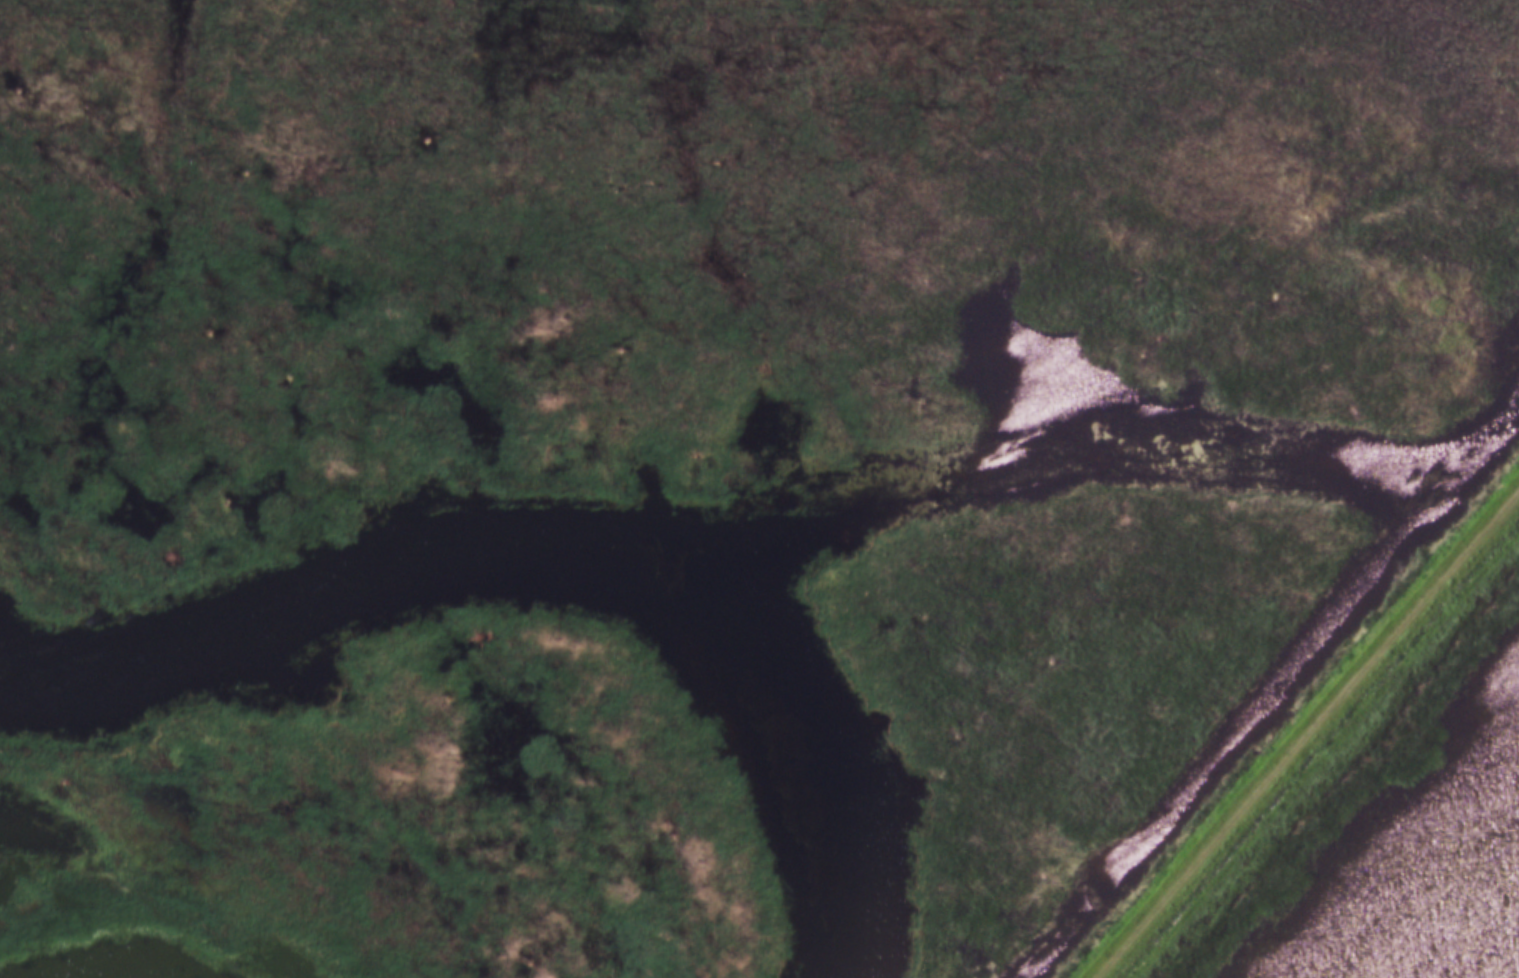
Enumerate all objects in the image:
road: (1303, 732)
dam: (1325, 750)

